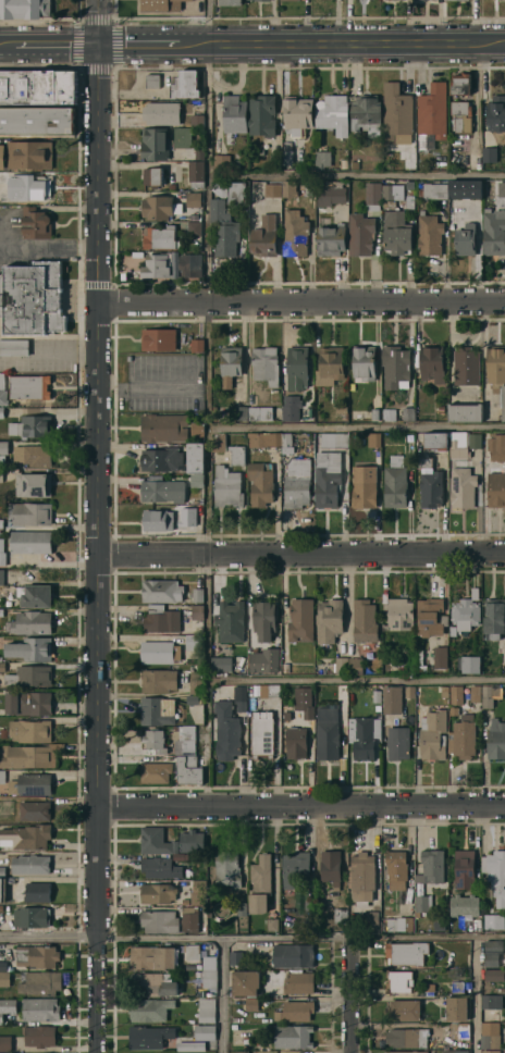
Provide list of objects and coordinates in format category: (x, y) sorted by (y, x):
building: (263, 0)
building: (293, 0)
building: (447, 0)
building: (230, 2)
building: (194, 3)
building: (156, 5)
building: (25, 8)
road: (503, 41)
road: (344, 42)
road: (48, 44)
traffic signals: (97, 44)
road: (141, 44)
building: (152, 80)
building: (185, 84)
building: (460, 84)
building: (38, 87)
building: (396, 111)
building: (432, 112)
building: (495, 112)
building: (161, 113)
building: (332, 113)
building: (366, 113)
building: (234, 114)
building: (296, 114)
building: (262, 115)
building: (461, 115)
building: (37, 120)
building: (197, 120)
building: (182, 137)
building: (426, 140)
building: (155, 143)
building: (198, 152)
building: (286, 153)
building: (489, 153)
building: (28, 154)
building: (2, 157)
building: (322, 159)
building: (221, 161)
building: (275, 161)
building: (236, 163)
building: (343, 163)
building: (354, 164)
building: (196, 173)
road: (355, 175)
building: (2, 176)
building: (152, 176)
building: (172, 186)
building: (29, 187)
building: (220, 188)
building: (288, 188)
building: (308, 188)
building: (465, 188)
building: (503, 188)
building: (272, 189)
building: (433, 190)
building: (392, 191)
building: (236, 193)
building: (330, 195)
building: (409, 195)
building: (372, 196)
building: (193, 199)
building: (389, 203)
building: (157, 207)
building: (220, 210)
building: (35, 223)
building: (194, 227)
building: (493, 232)
building: (295, 233)
building: (396, 233)
building: (360, 234)
building: (429, 234)
building: (159, 237)
building: (264, 237)
building: (225, 238)
building: (330, 239)
building: (465, 239)
road: (45, 247)
building: (156, 264)
building: (189, 264)
building: (32, 298)
road: (300, 300)
road: (206, 338)
building: (158, 339)
building: (197, 345)
building: (13, 347)
building: (364, 362)
building: (431, 362)
building: (495, 363)
building: (230, 364)
building: (266, 364)
building: (330, 366)
building: (466, 366)
building: (297, 367)
building: (395, 367)
building: (28, 386)
building: (352, 386)
building: (2, 392)
building: (502, 399)
road: (96, 402)
building: (352, 406)
building: (441, 408)
building: (342, 411)
building: (1, 412)
building: (239, 412)
building: (290, 412)
building: (465, 412)
building: (260, 413)
building: (408, 413)
building: (375, 414)
building: (387, 414)
building: (35, 425)
building: (163, 428)
building: (196, 429)
road: (355, 429)
building: (264, 439)
building: (340, 439)
building: (373, 439)
building: (287, 441)
building: (435, 441)
building: (475, 441)
building: (219, 443)
building: (458, 445)
building: (3, 447)
building: (496, 447)
building: (37, 455)
building: (237, 455)
building: (195, 458)
building: (161, 459)
building: (424, 462)
building: (8, 463)
building: (1, 475)
building: (196, 478)
building: (327, 479)
building: (395, 482)
building: (260, 483)
building: (297, 483)
building: (33, 484)
building: (226, 486)
building: (362, 487)
building: (463, 487)
building: (430, 488)
building: (161, 490)
building: (496, 490)
building: (195, 510)
building: (29, 512)
building: (157, 520)
building: (1, 523)
building: (184, 524)
building: (30, 542)
road: (299, 550)
building: (2, 553)
building: (1, 577)
building: (160, 591)
building: (198, 594)
building: (34, 595)
building: (197, 611)
building: (466, 611)
building: (398, 615)
building: (430, 617)
building: (263, 618)
building: (494, 618)
building: (161, 619)
building: (299, 620)
building: (329, 620)
building: (230, 621)
building: (365, 621)
building: (32, 622)
building: (192, 642)
building: (30, 648)
building: (158, 648)
building: (440, 657)
building: (190, 660)
building: (264, 660)
building: (220, 662)
building: (420, 662)
building: (470, 664)
building: (355, 665)
building: (341, 666)
building: (2, 667)
building: (285, 667)
building: (30, 676)
road: (355, 678)
building: (158, 680)
building: (196, 682)
building: (273, 690)
building: (408, 691)
building: (475, 693)
building: (223, 694)
building: (341, 694)
building: (456, 694)
building: (491, 694)
building: (375, 695)
building: (239, 697)
building: (194, 699)
building: (392, 699)
building: (28, 703)
building: (157, 710)
building: (453, 710)
building: (308, 711)
building: (174, 728)
building: (29, 730)
building: (226, 731)
building: (3, 732)
building: (262, 733)
building: (327, 733)
building: (433, 734)
building: (361, 736)
building: (496, 739)
building: (155, 740)
building: (188, 740)
building: (461, 740)
road: (204, 741)
building: (296, 742)
building: (397, 742)
building: (27, 755)
building: (169, 758)
building: (188, 769)
building: (155, 771)
building: (2, 777)
building: (30, 784)
building: (4, 801)
road: (300, 803)
building: (35, 810)
building: (25, 837)
building: (156, 841)
building: (192, 841)
building: (178, 856)
building: (30, 864)
building: (160, 867)
building: (331, 867)
building: (431, 867)
building: (227, 868)
building: (294, 868)
building: (396, 869)
building: (464, 869)
building: (186, 870)
building: (2, 871)
building: (496, 874)
building: (361, 876)
building: (260, 883)
building: (2, 890)
building: (37, 892)
building: (197, 892)
building: (157, 893)
building: (184, 901)
building: (421, 904)
building: (464, 905)
building: (309, 906)
building: (1, 907)
building: (241, 908)
building: (341, 915)
building: (32, 916)
building: (372, 917)
building: (189, 919)
building: (159, 921)
building: (489, 921)
building: (271, 924)
building: (405, 924)
building: (439, 925)
road: (95, 929)
road: (253, 938)
building: (196, 950)
building: (406, 953)
building: (492, 953)
building: (292, 955)
building: (37, 956)
building: (150, 957)
building: (235, 957)
building: (3, 966)
building: (494, 975)
building: (208, 978)
building: (4, 979)
building: (398, 981)
building: (245, 982)
building: (298, 982)
building: (40, 983)
building: (151, 984)
building: (457, 987)
building: (210, 994)
road: (477, 994)
road: (222, 995)
road: (345, 995)
building: (489, 1000)
building: (250, 1004)
building: (455, 1006)
building: (8, 1007)
building: (402, 1008)
building: (40, 1009)
building: (149, 1009)
building: (206, 1011)
building: (294, 1011)
building: (504, 1021)
building: (459, 1029)
building: (204, 1032)
building: (490, 1033)
building: (406, 1035)
building: (39, 1036)
building: (149, 1037)
building: (292, 1037)
building: (245, 1040)
building: (5, 1043)
building: (189, 1045)
building: (453, 1050)
building: (490, 1051)
building: (19, 1052)
building: (241, 1052)
building: (405, 1052)

